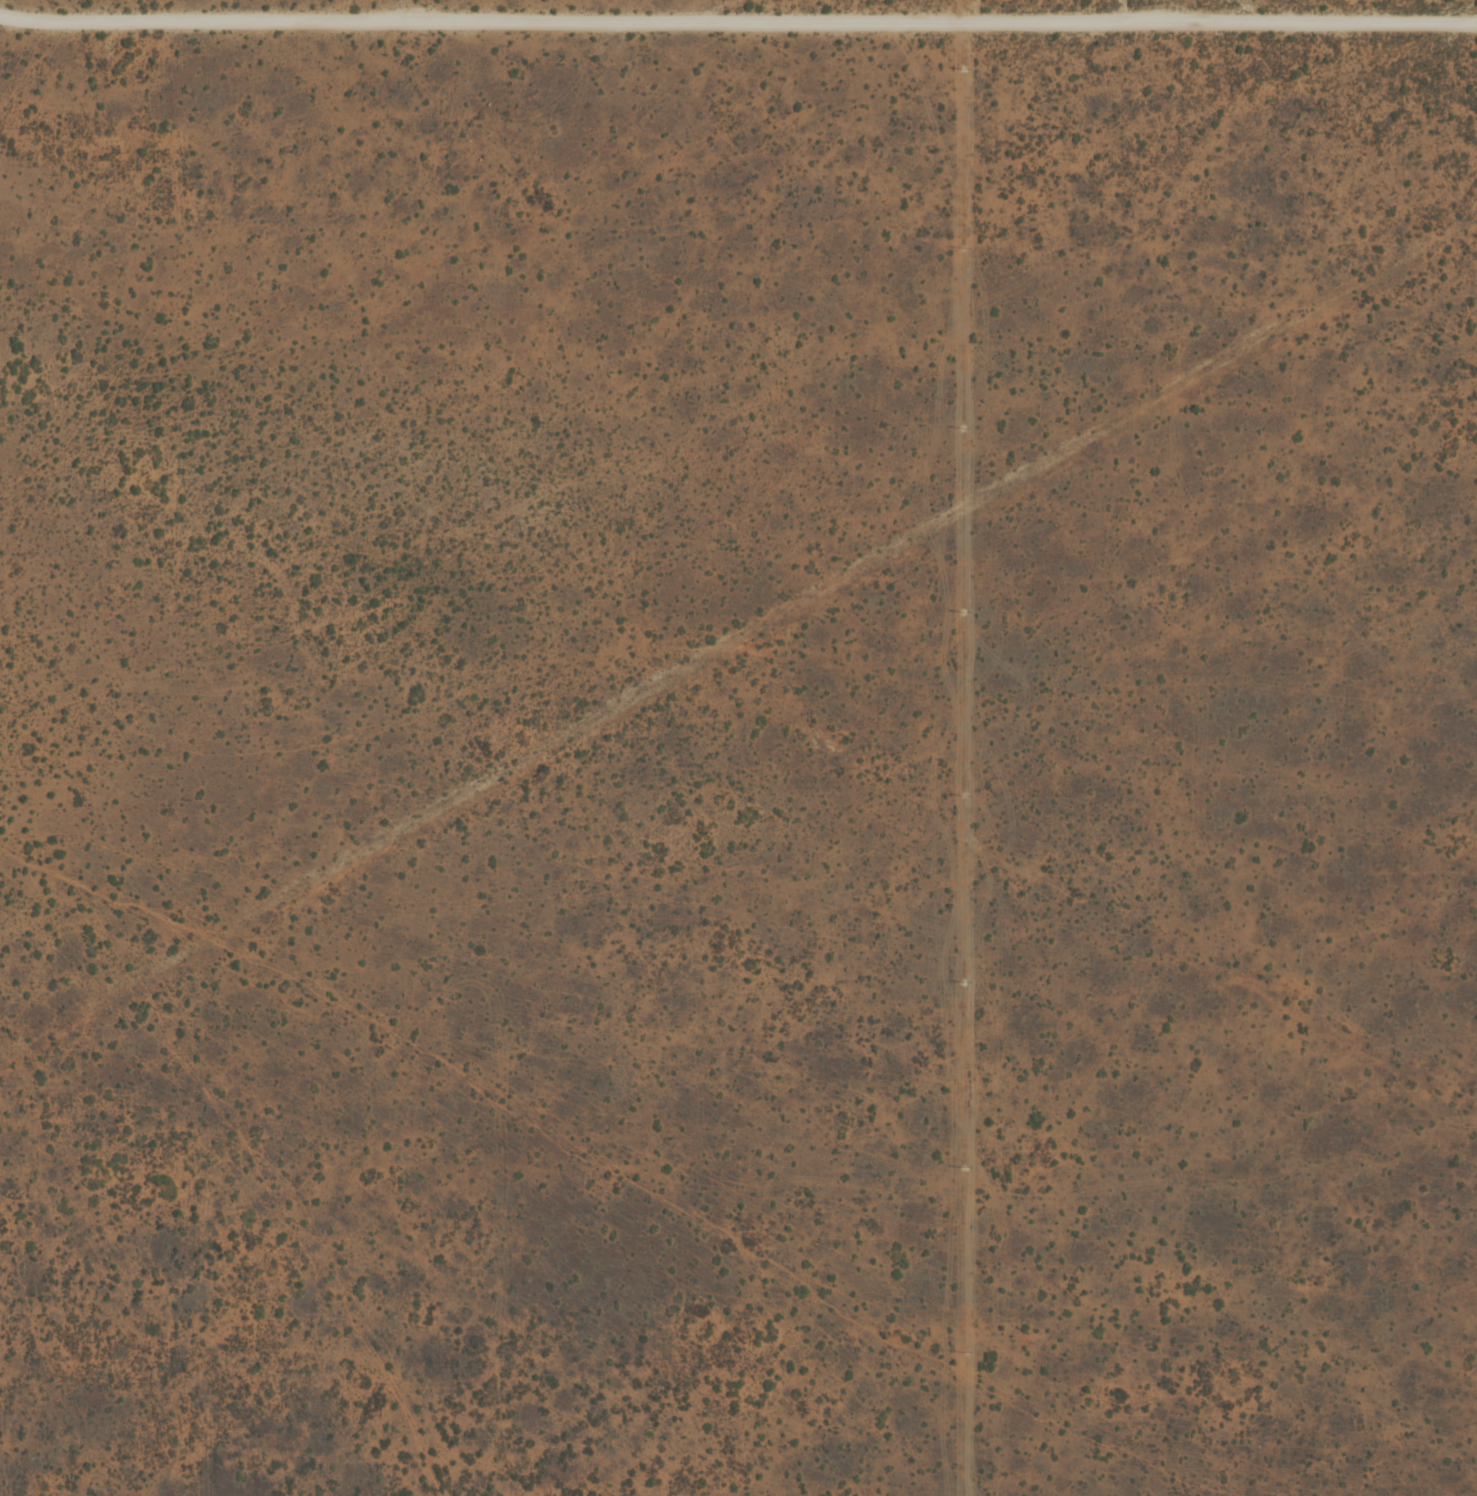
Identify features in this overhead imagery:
road: (737, 14)

